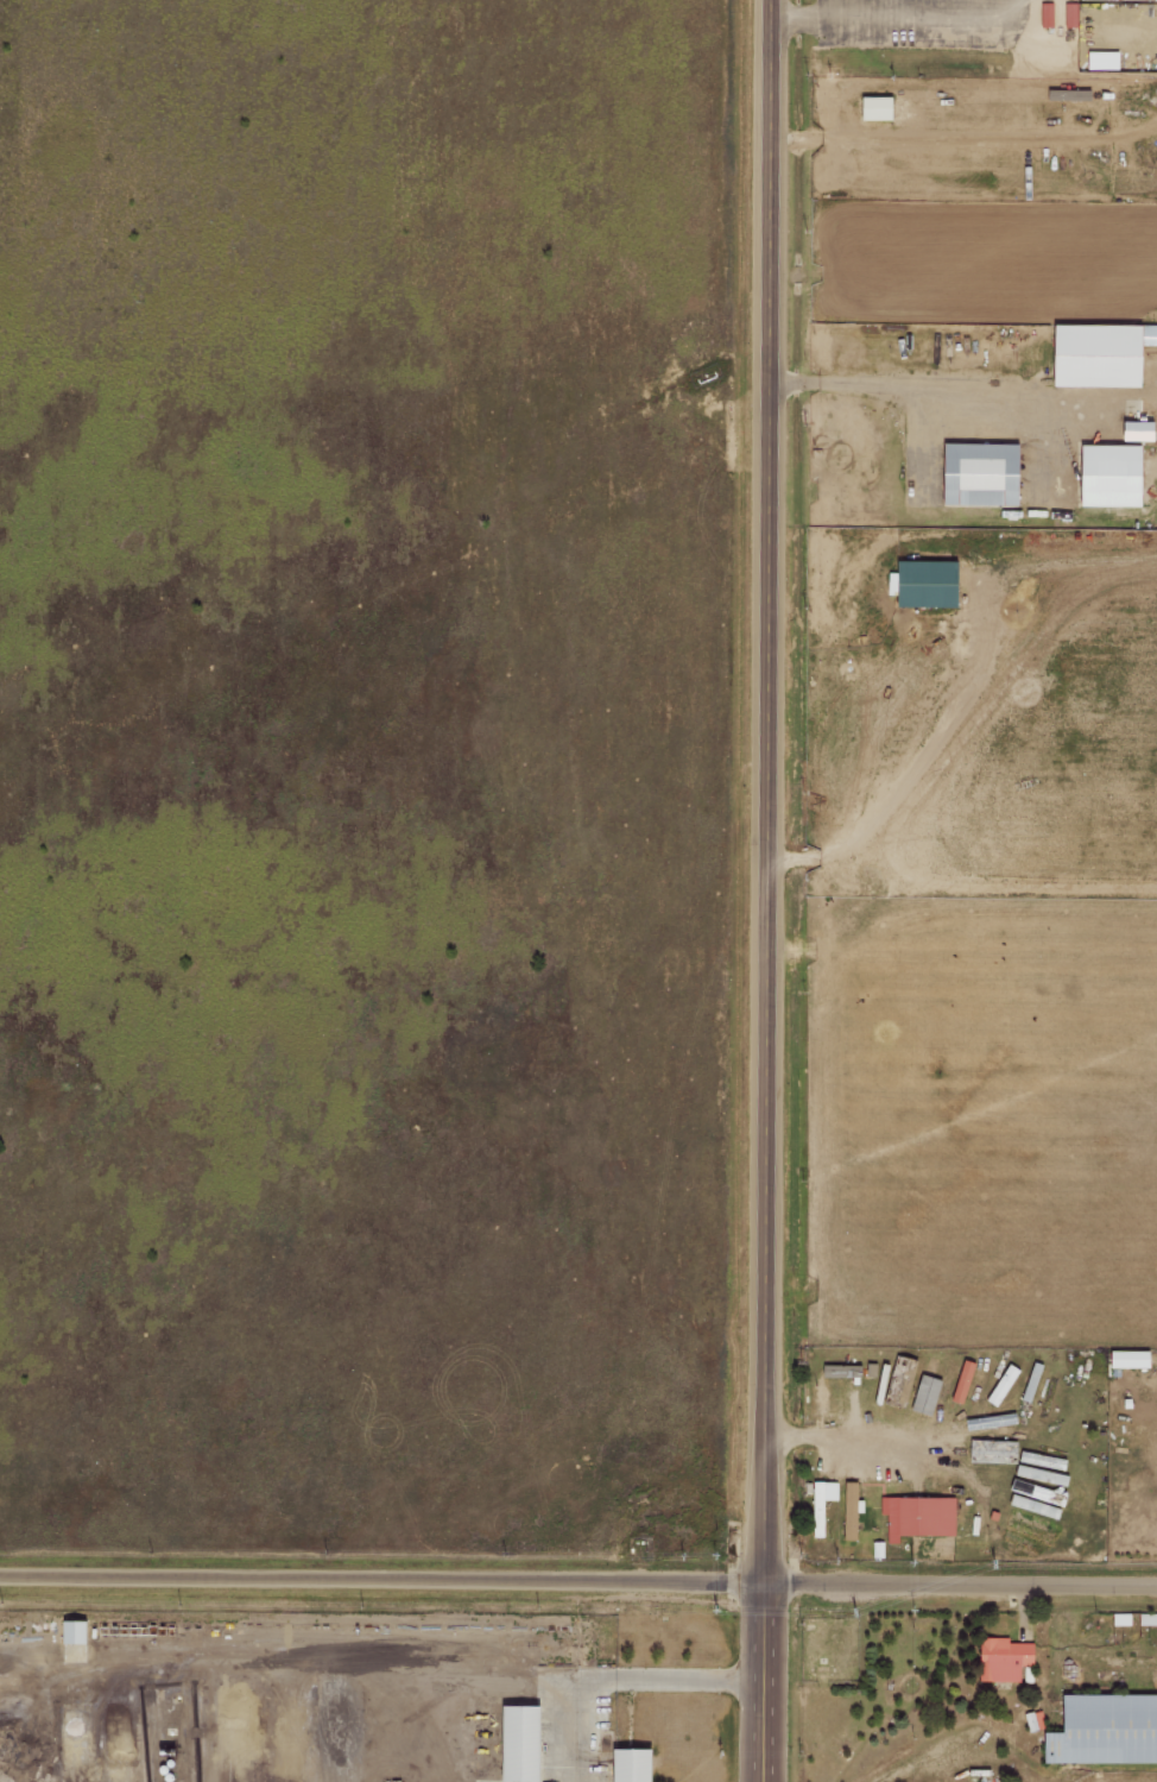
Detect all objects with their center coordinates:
building: (1045, 14)
building: (1100, 59)
building: (873, 108)
building: (1147, 334)
building: (1093, 353)
building: (1136, 430)
building: (979, 472)
building: (1107, 474)
building: (925, 583)
road: (770, 890)
building: (1125, 1358)
building: (922, 1384)
building: (936, 1393)
building: (990, 1450)
building: (820, 1503)
building: (848, 1510)
building: (917, 1516)
building: (1031, 1537)
road: (577, 1578)
building: (1146, 1618)
building: (69, 1631)
building: (1003, 1658)
building: (1105, 1729)
building: (513, 1743)
building: (625, 1765)

